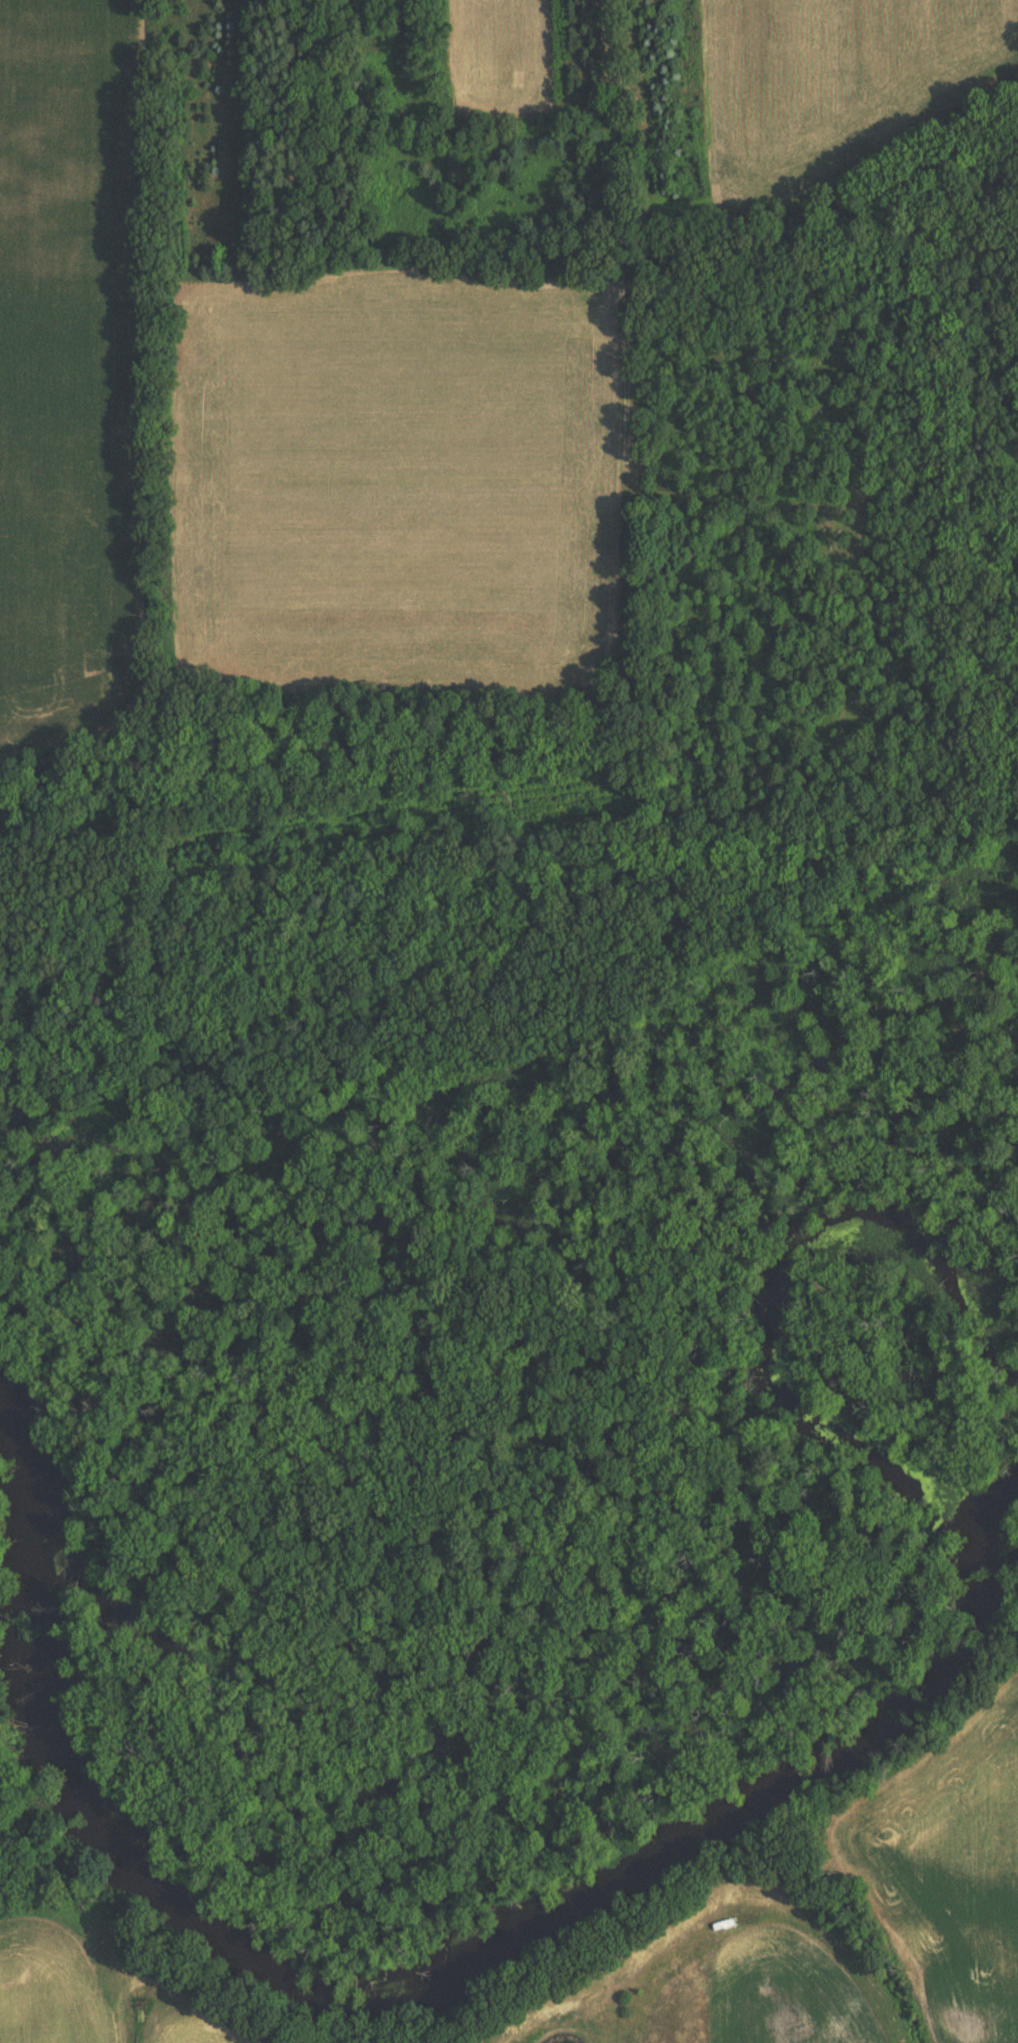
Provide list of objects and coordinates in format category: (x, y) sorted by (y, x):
river: (684, 1840)

